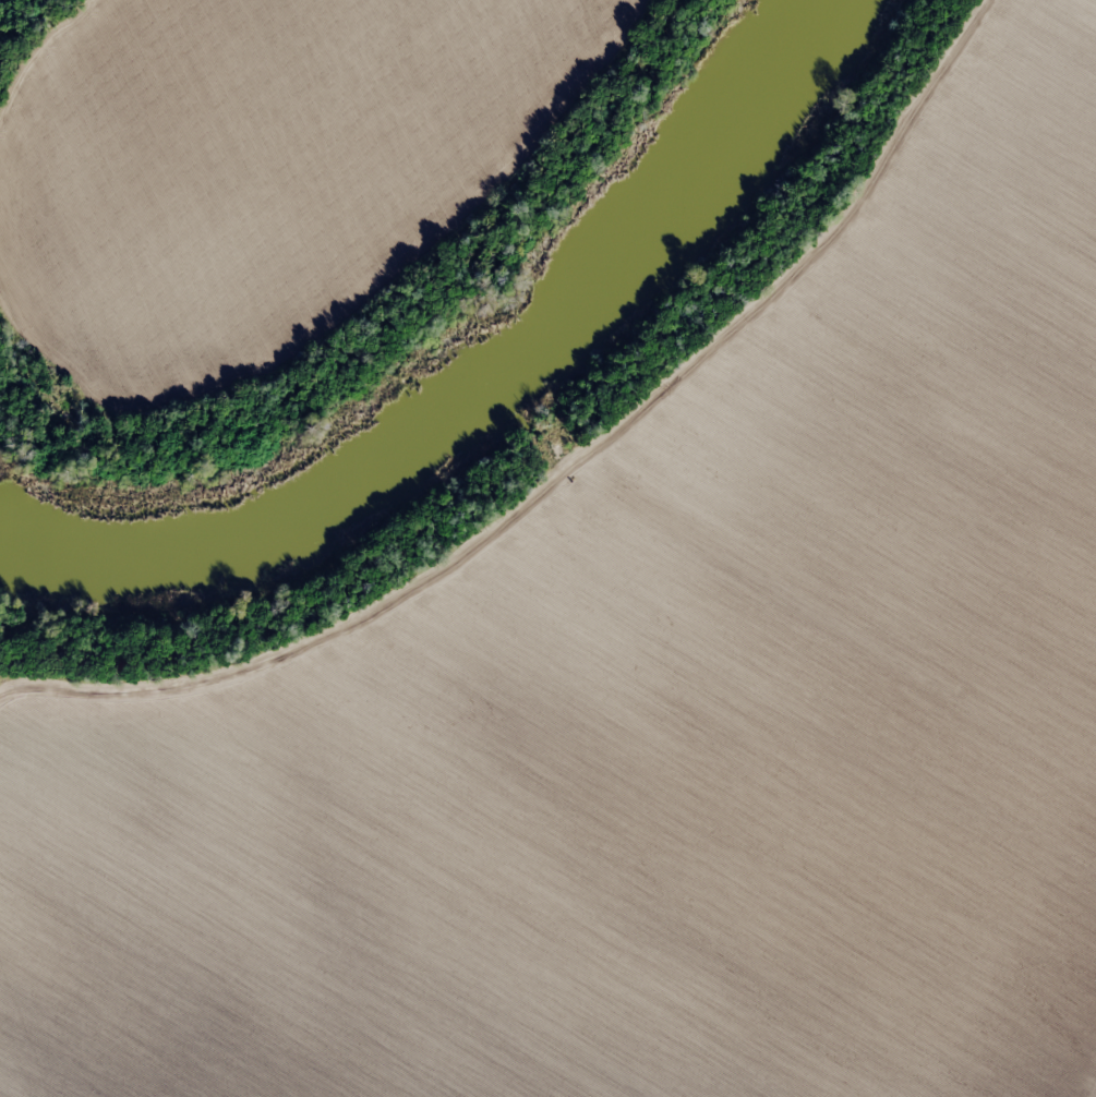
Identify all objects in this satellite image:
road: (965, 28)
river: (473, 384)

